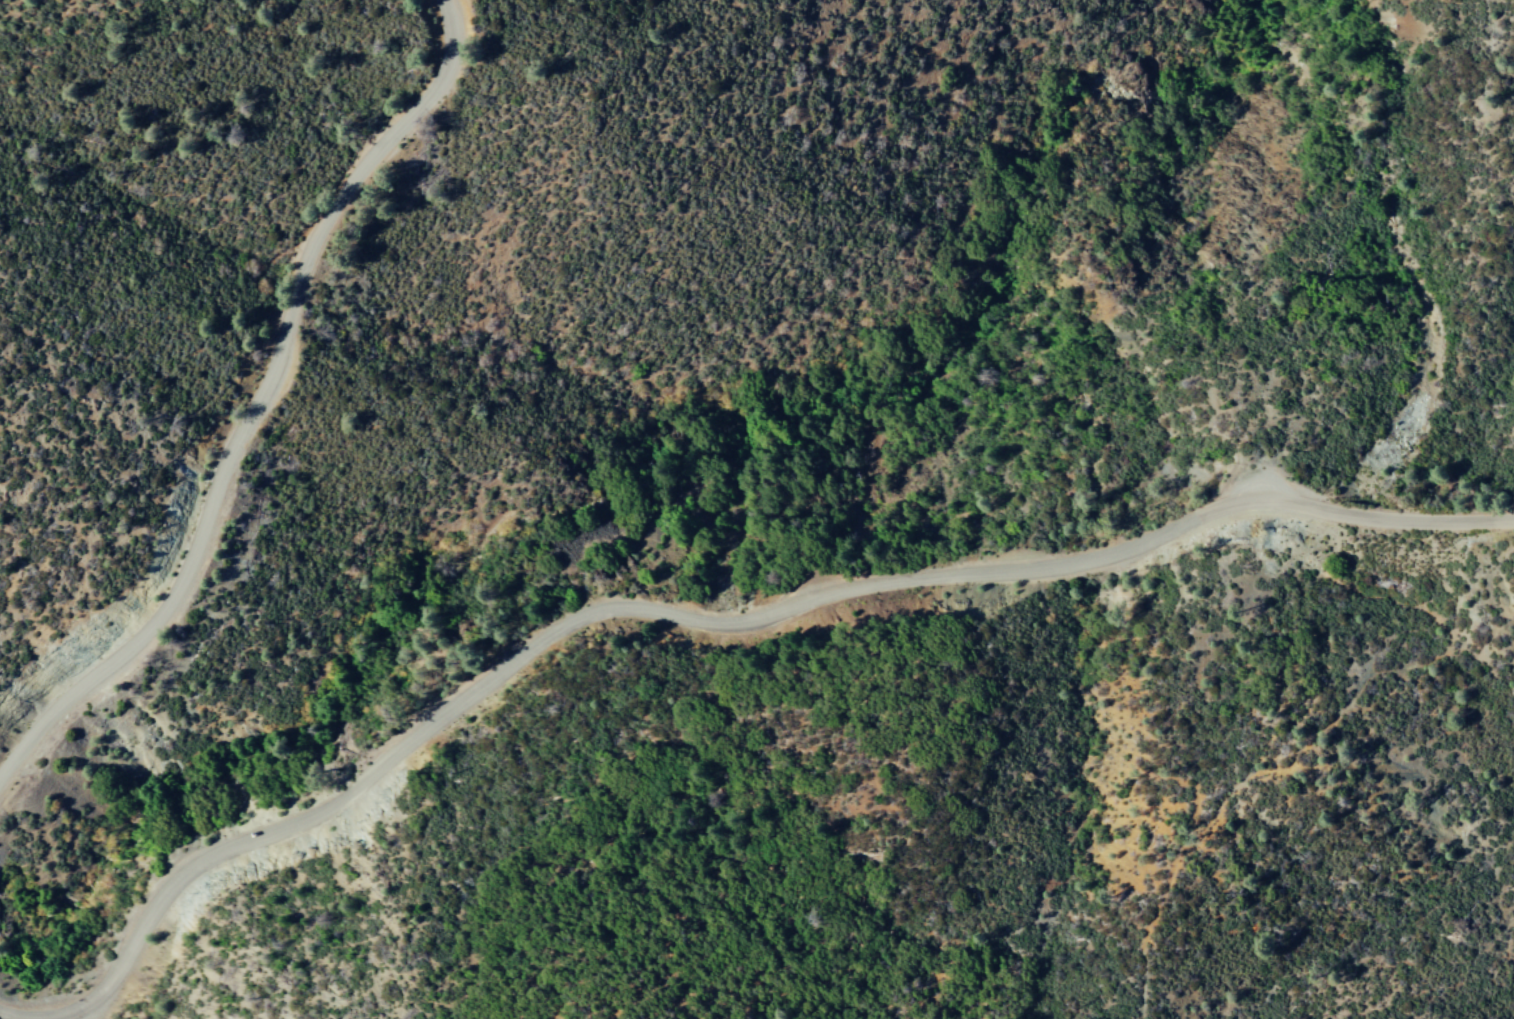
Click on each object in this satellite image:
road: (263, 409)
road: (690, 623)

